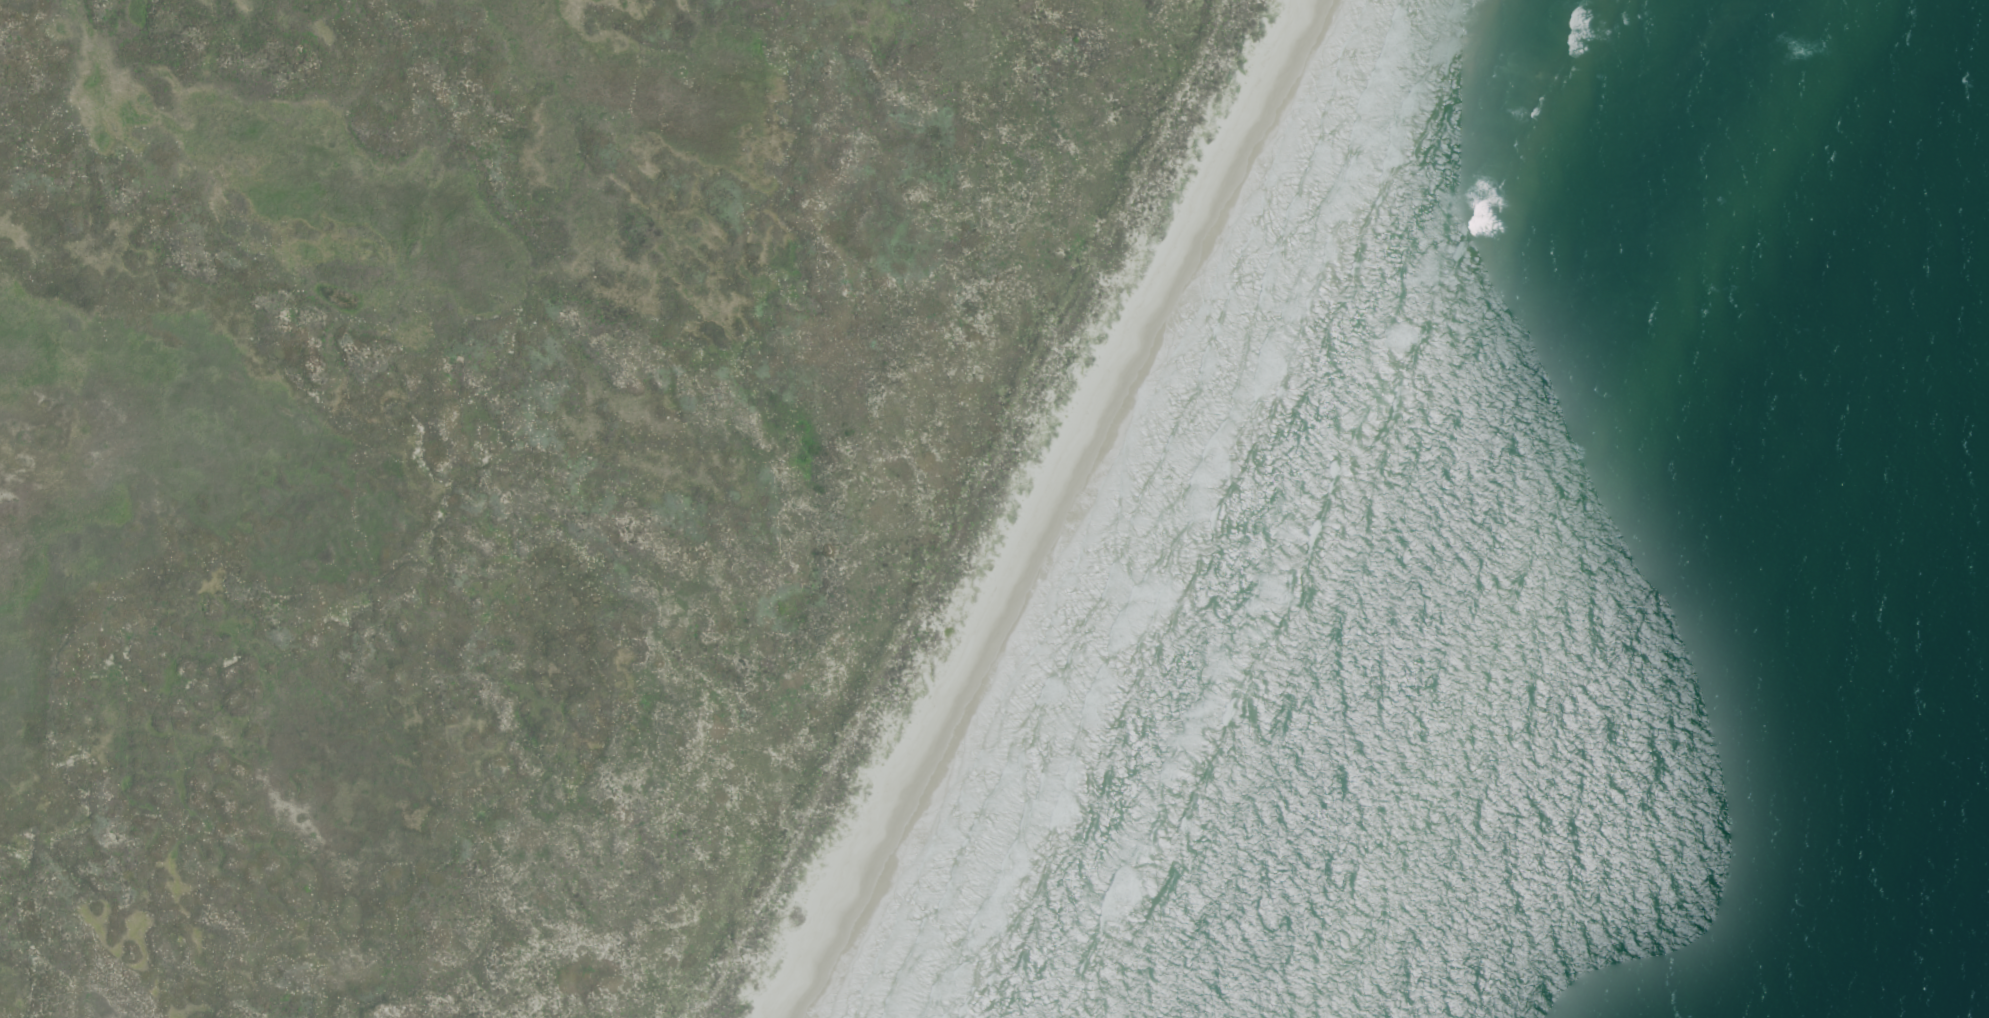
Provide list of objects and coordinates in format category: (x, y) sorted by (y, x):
park: (707, 475)

